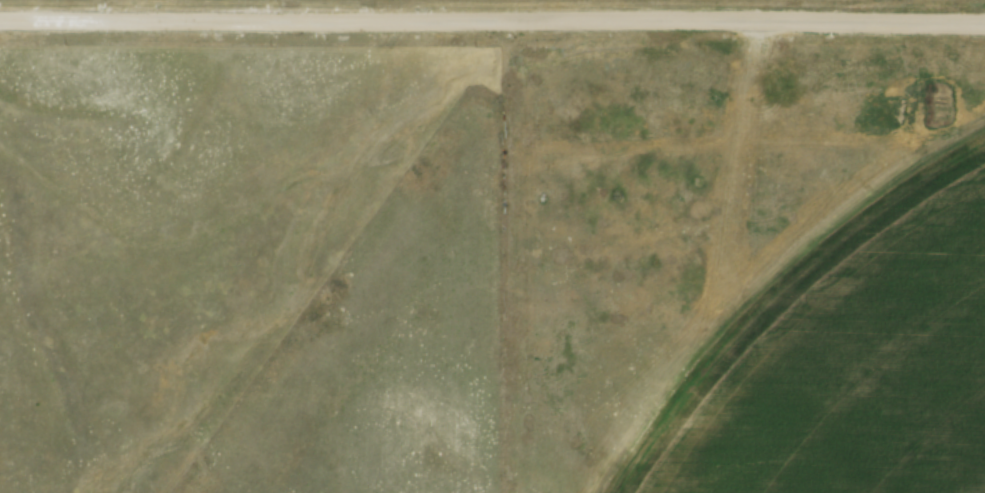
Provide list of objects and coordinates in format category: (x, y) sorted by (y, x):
road: (492, 17)
crop: (848, 361)

